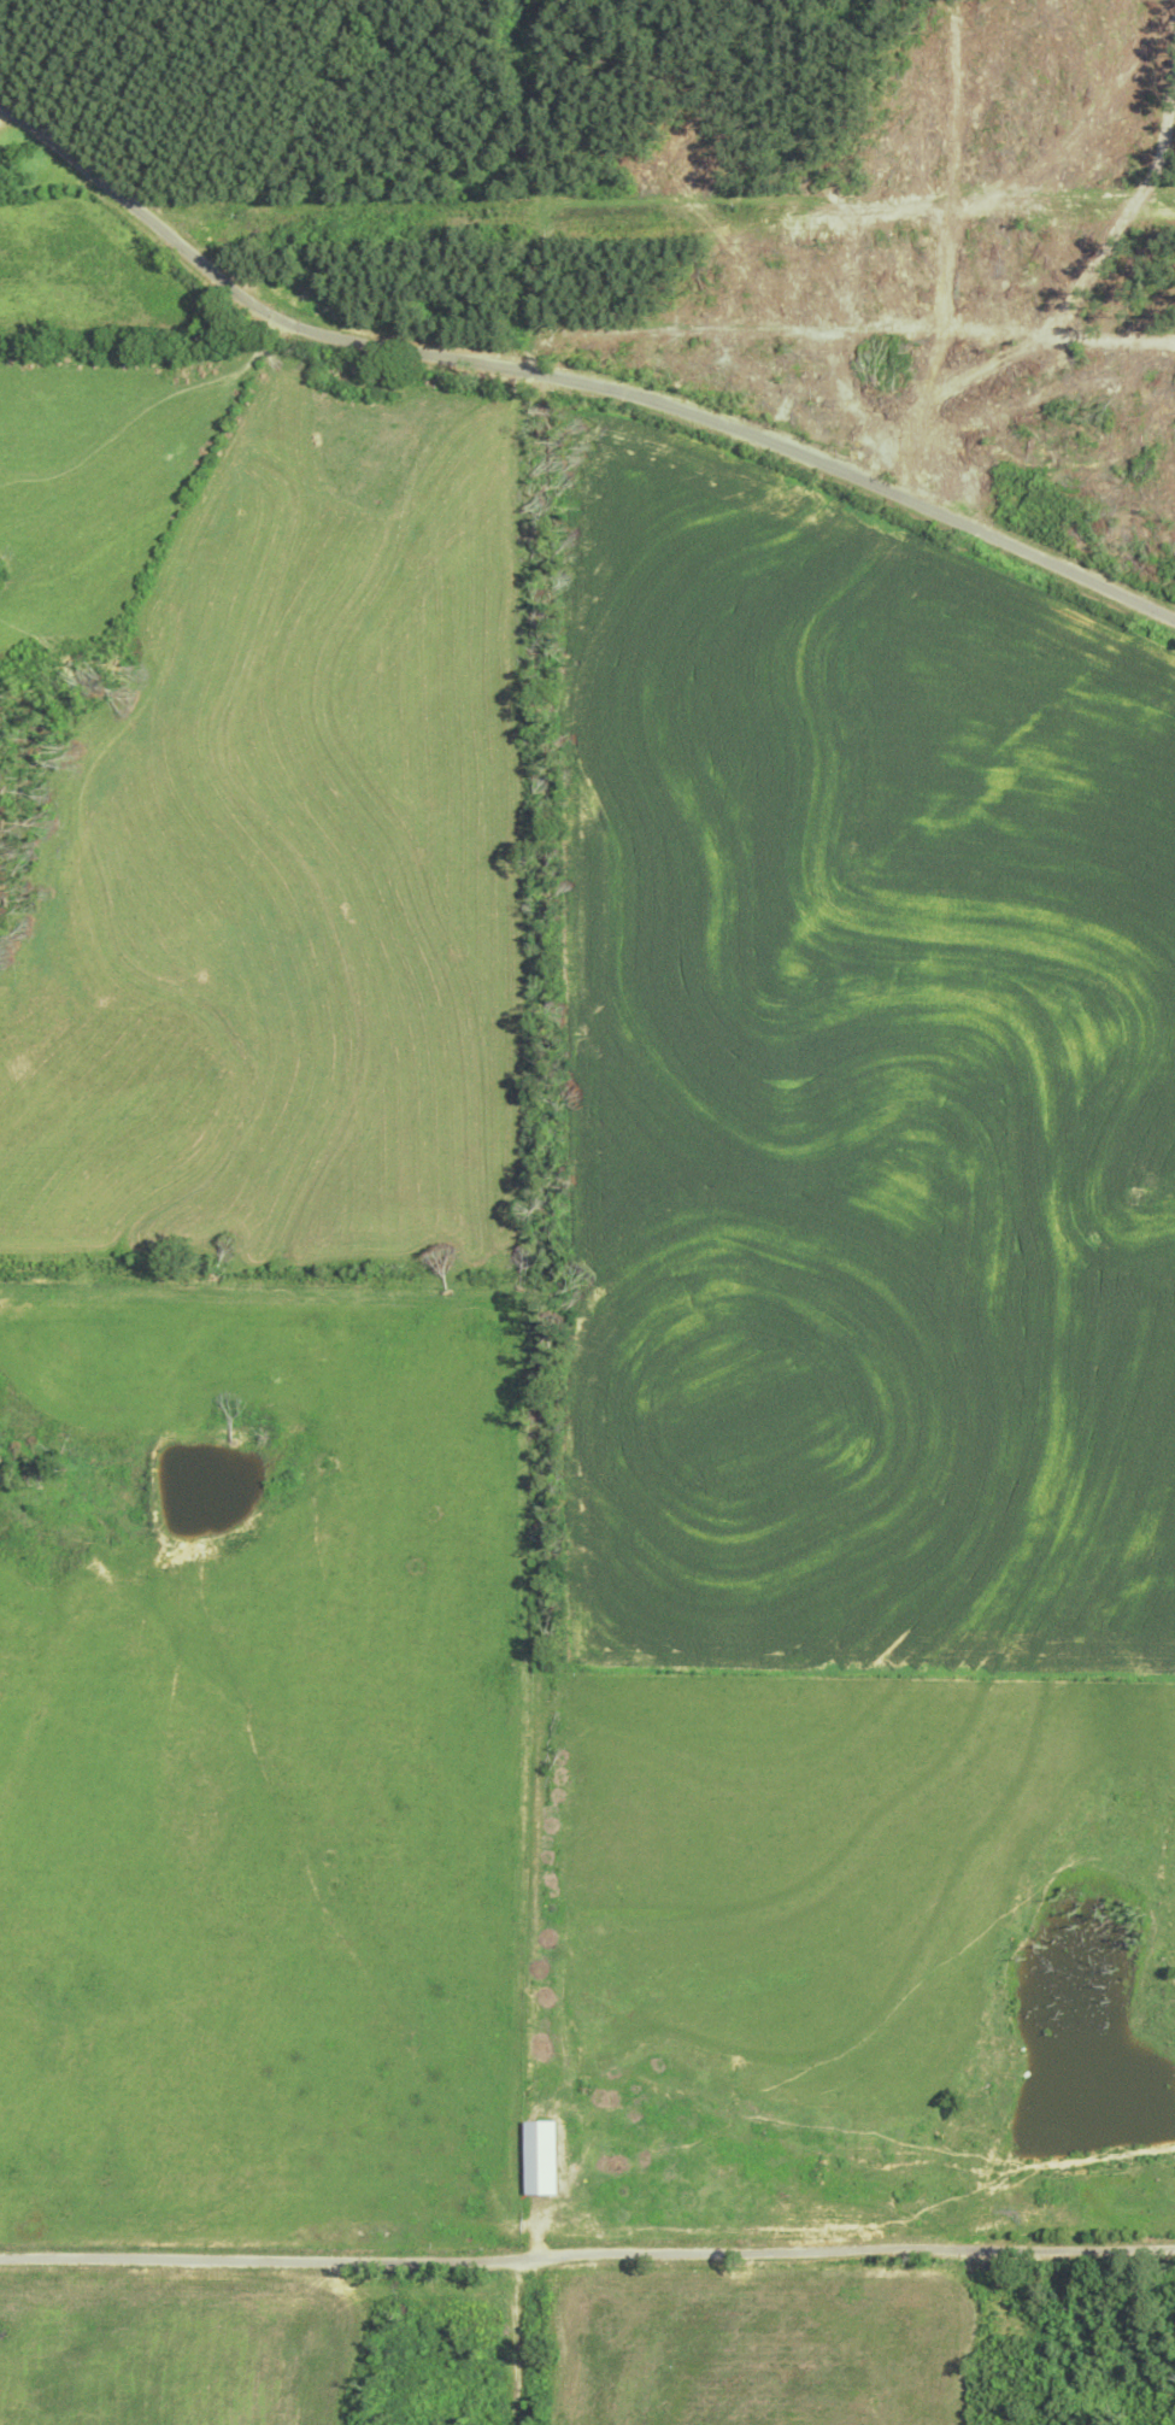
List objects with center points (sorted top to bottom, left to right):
building: (0, 186)
road: (570, 378)
road: (587, 2255)

